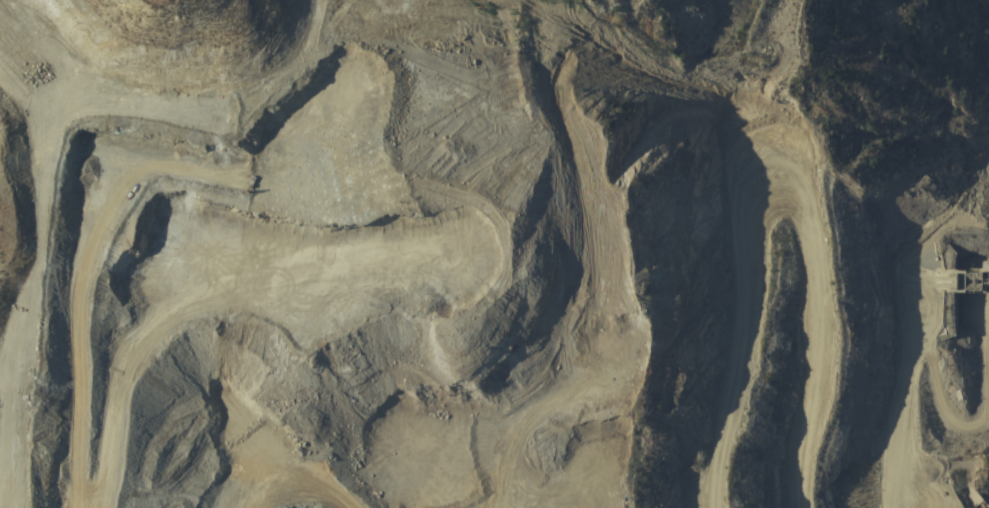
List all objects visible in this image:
road: (813, 192)
quarry: (494, 254)
road: (531, 489)

